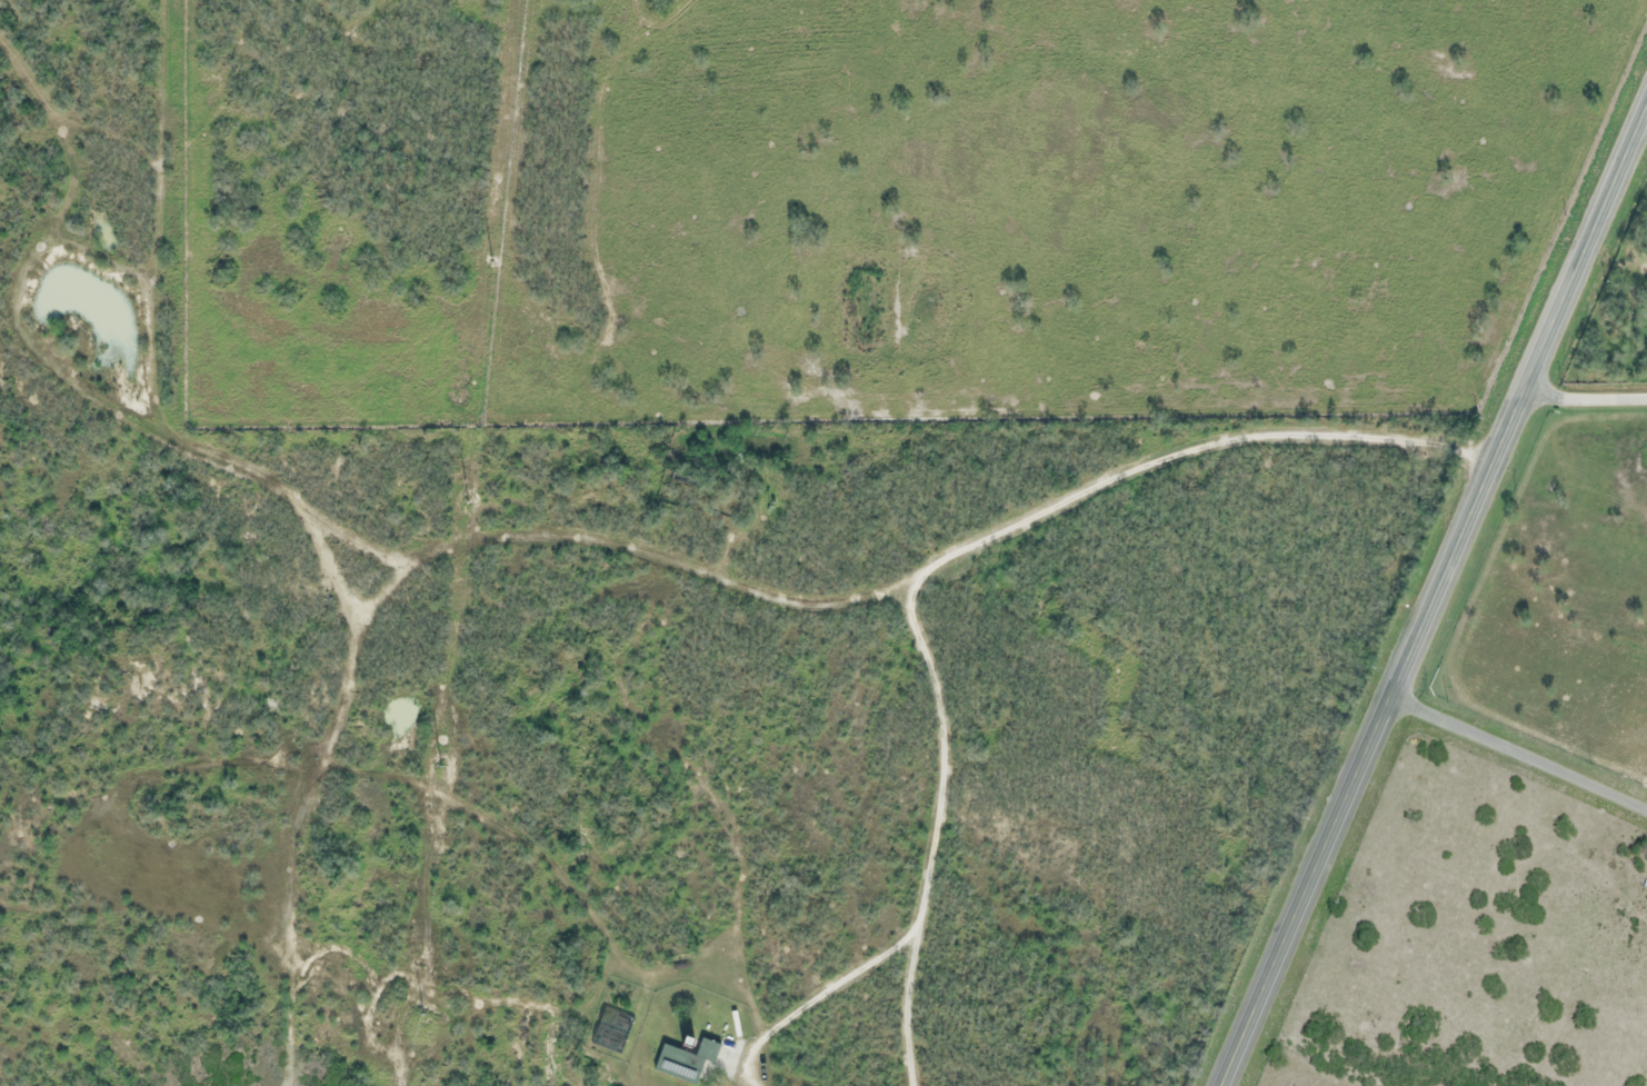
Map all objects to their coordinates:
power tower: (489, 261)
road: (1585, 397)
power tower: (465, 500)
road: (506, 550)
road: (1435, 598)
road: (1520, 750)
power tower: (438, 766)
power tower: (417, 1014)
building: (685, 1063)

